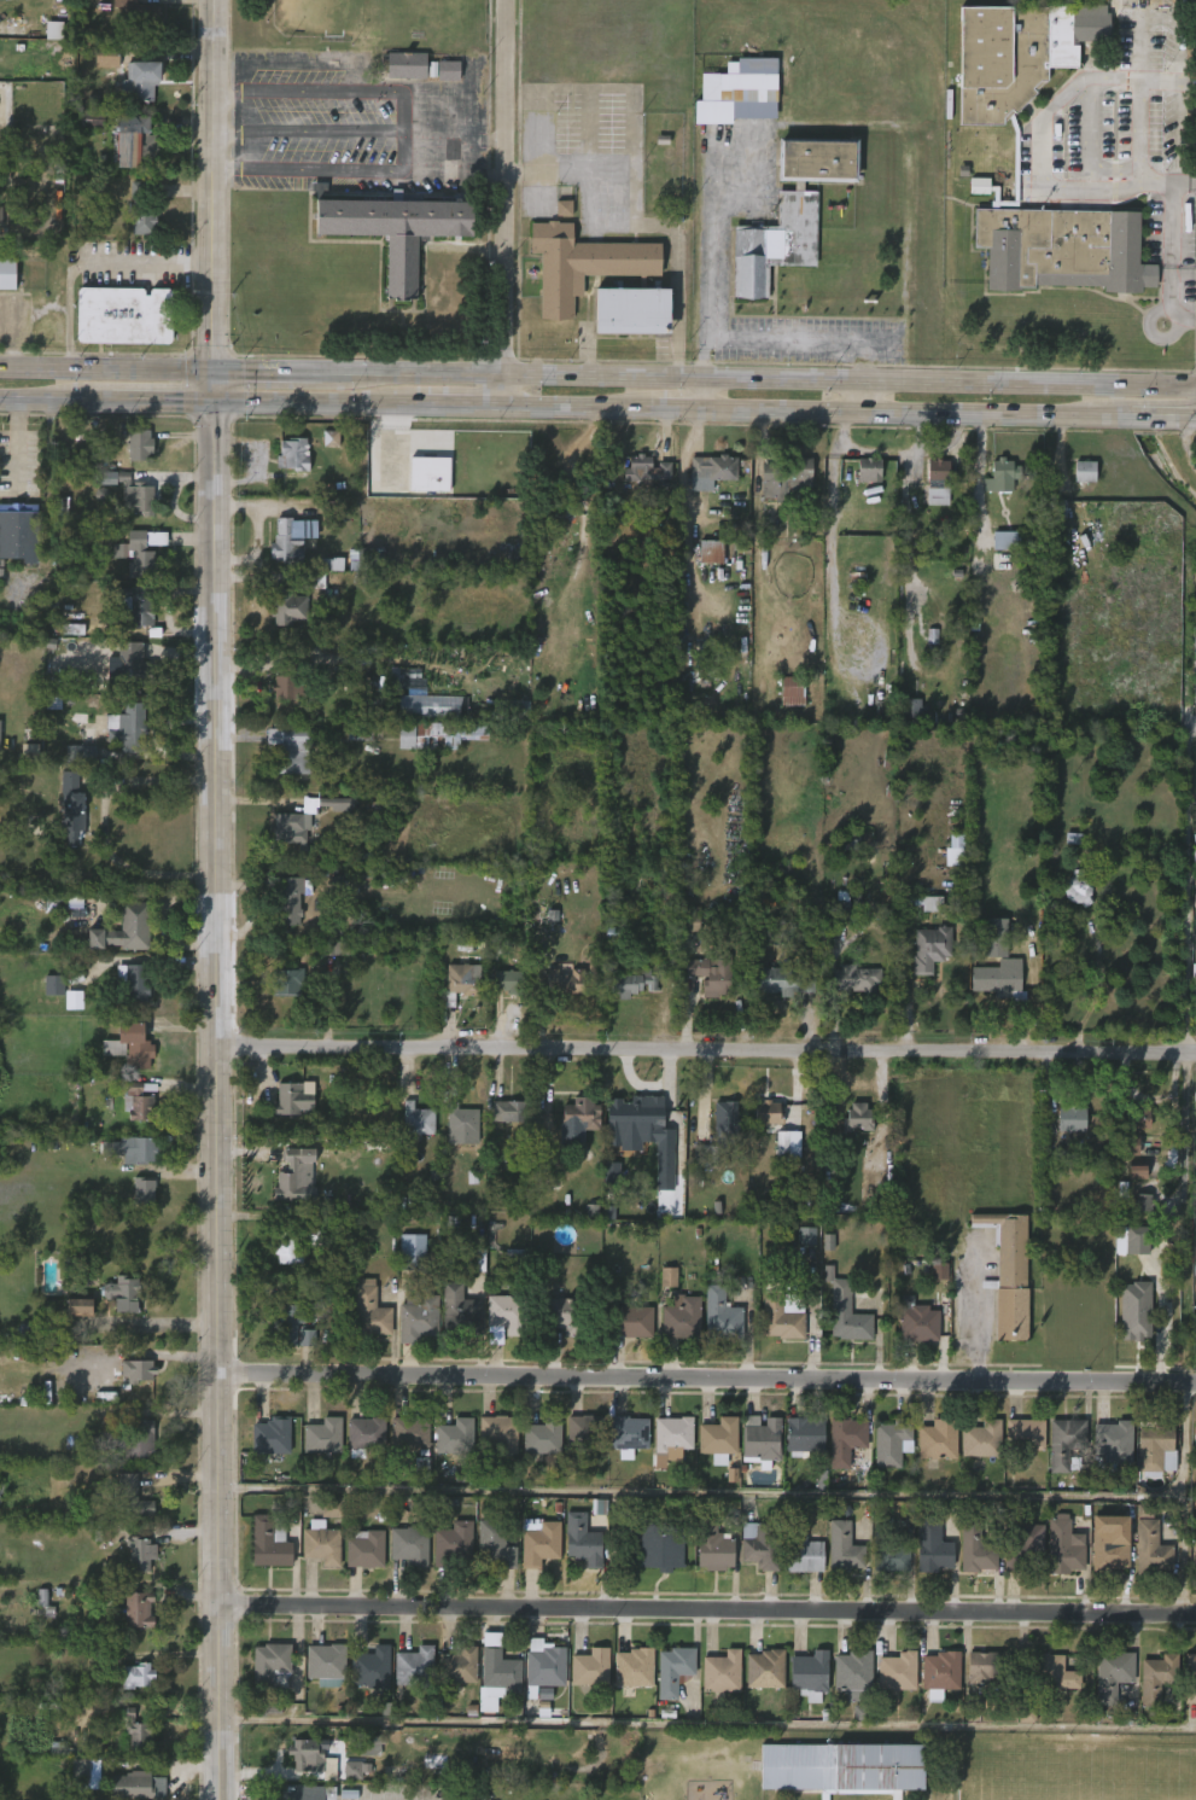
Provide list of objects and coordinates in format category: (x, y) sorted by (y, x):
building: (138, 16)
building: (54, 30)
building: (105, 54)
building: (419, 66)
building: (140, 80)
building: (739, 87)
road: (305, 92)
building: (92, 117)
road: (305, 129)
road: (399, 130)
road: (622, 134)
road: (451, 139)
building: (132, 142)
road: (1043, 152)
building: (1016, 155)
road: (305, 169)
road: (212, 200)
road: (502, 203)
building: (141, 208)
building: (564, 208)
building: (790, 211)
building: (1, 215)
building: (391, 231)
road: (705, 258)
road: (91, 260)
road: (1167, 270)
building: (6, 274)
building: (561, 282)
building: (122, 316)
road: (797, 337)
traffic signals: (212, 371)
road: (348, 373)
road: (946, 380)
road: (695, 394)
road: (862, 396)
road: (56, 400)
road: (162, 401)
traffic signals: (214, 401)
road: (313, 403)
road: (457, 406)
road: (576, 408)
road: (671, 409)
road: (909, 414)
road: (1161, 416)
building: (331, 438)
building: (140, 444)
building: (293, 453)
building: (647, 467)
building: (711, 468)
building: (871, 470)
building: (1085, 471)
building: (428, 472)
building: (1002, 474)
building: (113, 478)
building: (786, 478)
building: (939, 482)
building: (135, 494)
building: (1055, 508)
building: (18, 531)
building: (292, 532)
building: (1004, 540)
road: (833, 541)
building: (711, 551)
building: (135, 554)
building: (363, 560)
building: (332, 564)
building: (287, 606)
building: (138, 607)
building: (72, 629)
building: (133, 665)
building: (287, 681)
building: (792, 691)
building: (432, 706)
building: (511, 710)
building: (127, 727)
road: (1186, 728)
building: (361, 729)
building: (438, 734)
building: (82, 747)
building: (0, 748)
building: (290, 748)
building: (30, 752)
road: (177, 755)
building: (339, 802)
building: (71, 808)
road: (105, 823)
building: (293, 831)
building: (956, 850)
building: (1078, 887)
road: (156, 895)
building: (288, 898)
building: (63, 901)
building: (1195, 901)
building: (932, 903)
building: (689, 918)
building: (123, 928)
building: (994, 937)
building: (339, 948)
building: (930, 948)
road: (140, 959)
building: (712, 973)
building: (857, 978)
building: (286, 980)
building: (509, 980)
building: (565, 980)
building: (1003, 980)
building: (461, 981)
building: (781, 981)
building: (132, 983)
building: (631, 983)
building: (54, 985)
building: (74, 1000)
building: (132, 1043)
road: (707, 1045)
road: (1174, 1055)
road: (646, 1087)
building: (292, 1099)
building: (138, 1100)
road: (218, 1100)
building: (508, 1111)
building: (648, 1111)
building: (577, 1114)
building: (768, 1114)
building: (862, 1115)
building: (1074, 1117)
building: (1136, 1117)
building: (460, 1120)
building: (416, 1122)
building: (728, 1124)
building: (788, 1144)
building: (1128, 1144)
building: (664, 1148)
building: (141, 1149)
building: (705, 1155)
building: (544, 1167)
building: (1137, 1172)
building: (294, 1173)
building: (612, 1176)
building: (145, 1189)
building: (1143, 1202)
building: (806, 1235)
building: (1131, 1240)
building: (293, 1245)
building: (412, 1258)
building: (1122, 1260)
building: (1009, 1274)
building: (669, 1276)
building: (123, 1292)
building: (78, 1307)
building: (369, 1310)
building: (459, 1311)
building: (1134, 1311)
building: (720, 1315)
building: (564, 1316)
building: (502, 1317)
building: (780, 1317)
building: (416, 1318)
building: (848, 1318)
building: (682, 1320)
building: (920, 1321)
building: (630, 1322)
building: (292, 1327)
road: (1154, 1327)
building: (1126, 1330)
building: (136, 1371)
road: (706, 1373)
building: (588, 1429)
building: (410, 1433)
building: (501, 1433)
building: (364, 1435)
building: (544, 1435)
building: (629, 1435)
building: (1025, 1435)
building: (672, 1437)
building: (804, 1437)
building: (322, 1438)
building: (455, 1438)
building: (126, 1439)
building: (270, 1439)
building: (846, 1439)
building: (981, 1439)
building: (718, 1440)
building: (938, 1440)
building: (760, 1441)
building: (892, 1444)
building: (1066, 1444)
building: (1109, 1444)
building: (1150, 1447)
building: (422, 1468)
road: (700, 1492)
building: (133, 1497)
road: (1182, 1499)
building: (419, 1504)
building: (333, 1509)
building: (101, 1533)
building: (582, 1539)
building: (657, 1542)
building: (269, 1543)
building: (760, 1543)
building: (1150, 1543)
building: (322, 1544)
building: (409, 1544)
building: (453, 1544)
building: (494, 1544)
building: (539, 1545)
building: (712, 1545)
building: (934, 1545)
building: (1108, 1545)
building: (891, 1546)
building: (1063, 1546)
building: (364, 1548)
building: (844, 1548)
building: (975, 1548)
building: (1026, 1548)
building: (142, 1553)
building: (801, 1554)
building: (1195, 1572)
building: (138, 1608)
road: (707, 1608)
building: (325, 1664)
building: (269, 1665)
building: (457, 1665)
building: (371, 1666)
building: (590, 1666)
building: (634, 1666)
building: (985, 1666)
building: (413, 1667)
building: (547, 1667)
building: (500, 1670)
building: (672, 1670)
building: (722, 1671)
building: (766, 1671)
building: (899, 1671)
building: (853, 1672)
building: (943, 1672)
building: (1054, 1672)
building: (810, 1673)
building: (1113, 1673)
building: (135, 1674)
building: (1157, 1676)
building: (1190, 1677)
road: (708, 1723)
building: (138, 1731)
building: (369, 1746)
building: (303, 1752)
building: (846, 1766)
building: (329, 1770)
building: (352, 1770)
building: (86, 1773)
building: (129, 1786)
building: (305, 1792)
building: (476, 1794)

